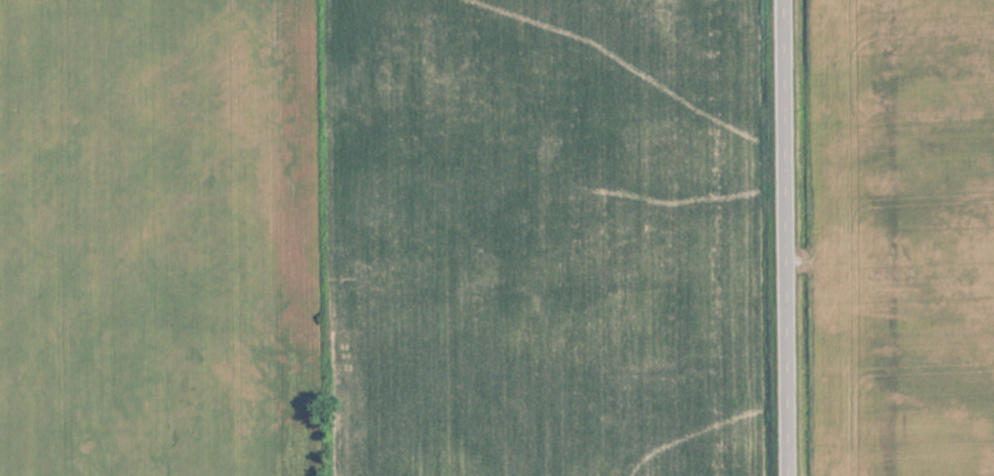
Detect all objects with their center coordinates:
road: (790, 238)

